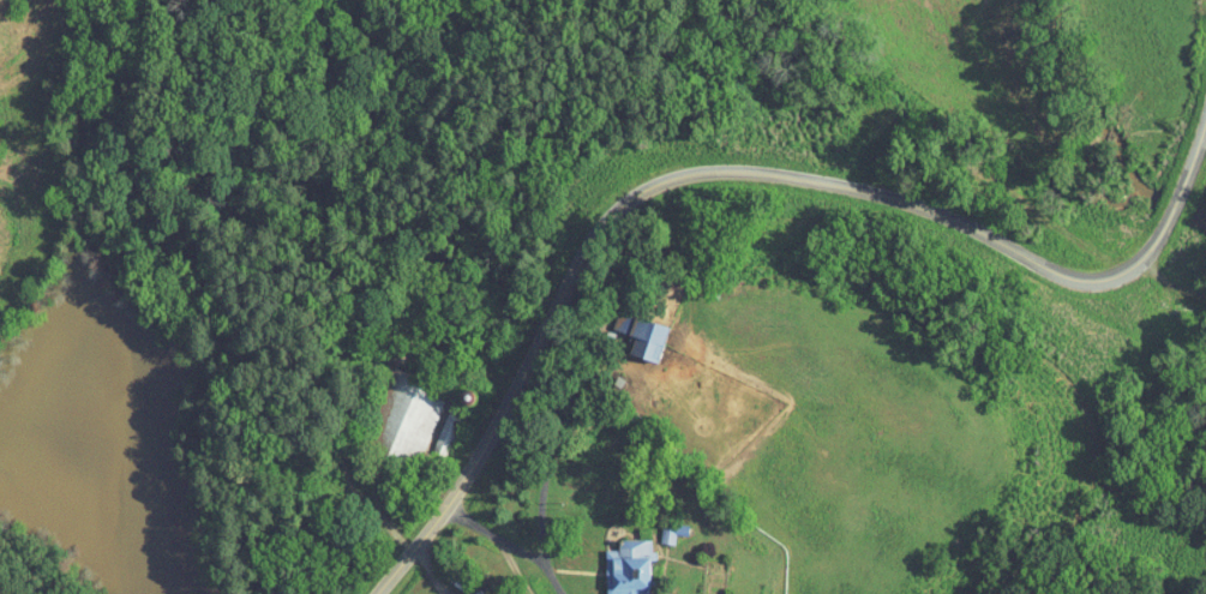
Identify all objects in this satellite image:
road: (732, 169)
building: (628, 328)
building: (391, 408)
building: (431, 427)
road: (545, 434)
building: (653, 528)
road: (503, 542)
building: (614, 560)

